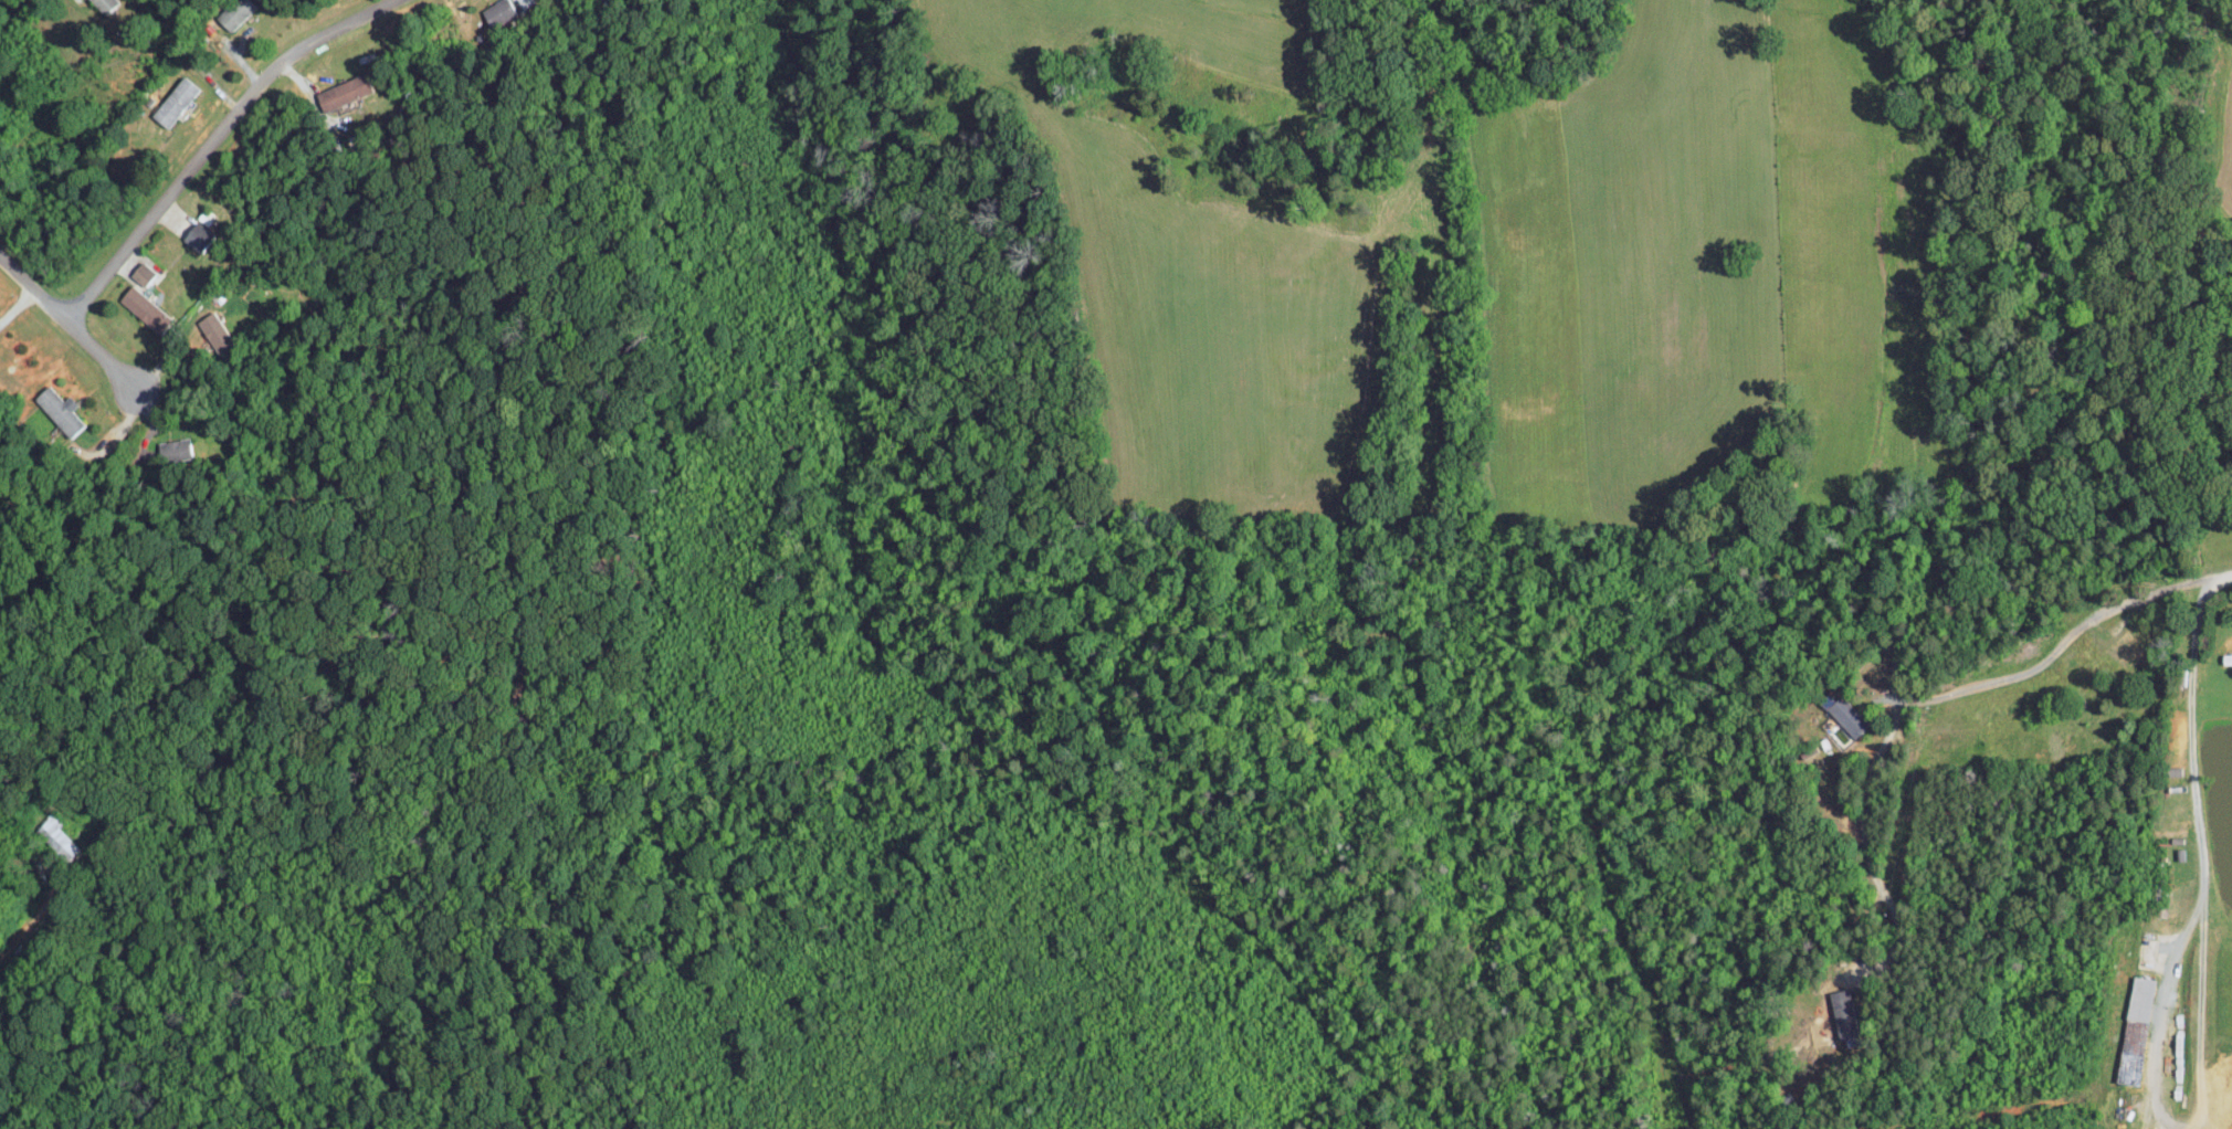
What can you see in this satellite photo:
building: (102, 4)
building: (498, 12)
building: (233, 13)
building: (341, 92)
building: (173, 102)
road: (210, 137)
building: (143, 273)
road: (21, 300)
building: (143, 306)
building: (215, 331)
road: (136, 367)
building: (60, 410)
building: (176, 449)
road: (2064, 642)
building: (1846, 715)
building: (60, 836)
road: (1866, 837)
road: (2201, 974)
building: (1843, 1005)
building: (2134, 1030)

